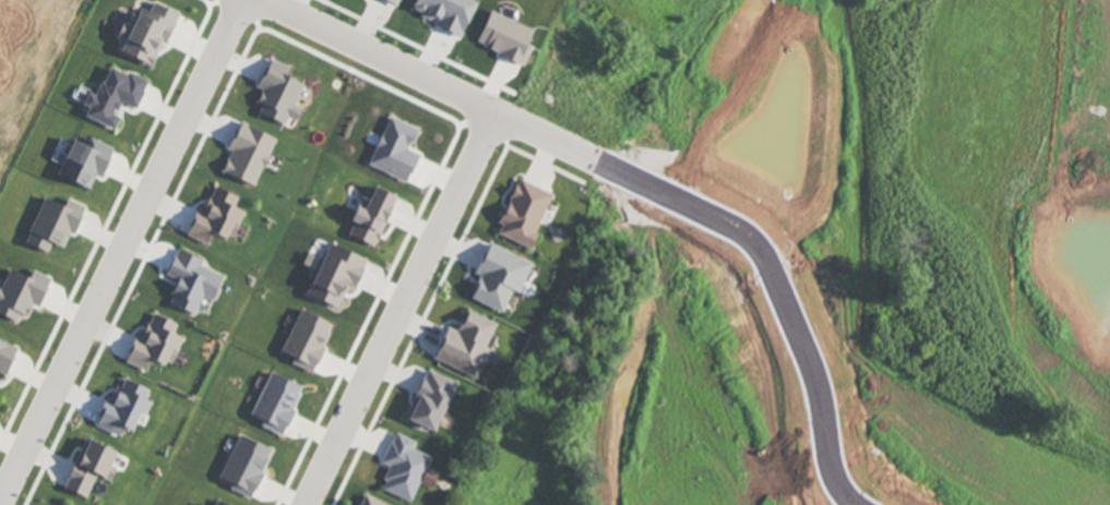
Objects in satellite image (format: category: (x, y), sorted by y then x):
building: (389, 3)
building: (446, 15)
building: (148, 36)
building: (506, 43)
building: (278, 97)
building: (115, 100)
building: (397, 154)
building: (249, 157)
building: (86, 166)
road: (634, 182)
building: (524, 217)
building: (372, 220)
building: (217, 223)
building: (55, 228)
road: (123, 252)
building: (336, 279)
building: (499, 281)
building: (192, 286)
building: (23, 298)
road: (402, 311)
building: (307, 344)
building: (156, 348)
building: (467, 349)
building: (7, 361)
building: (431, 404)
building: (278, 408)
building: (124, 412)
building: (247, 470)
building: (92, 471)
building: (406, 472)
building: (369, 503)
building: (218, 504)

